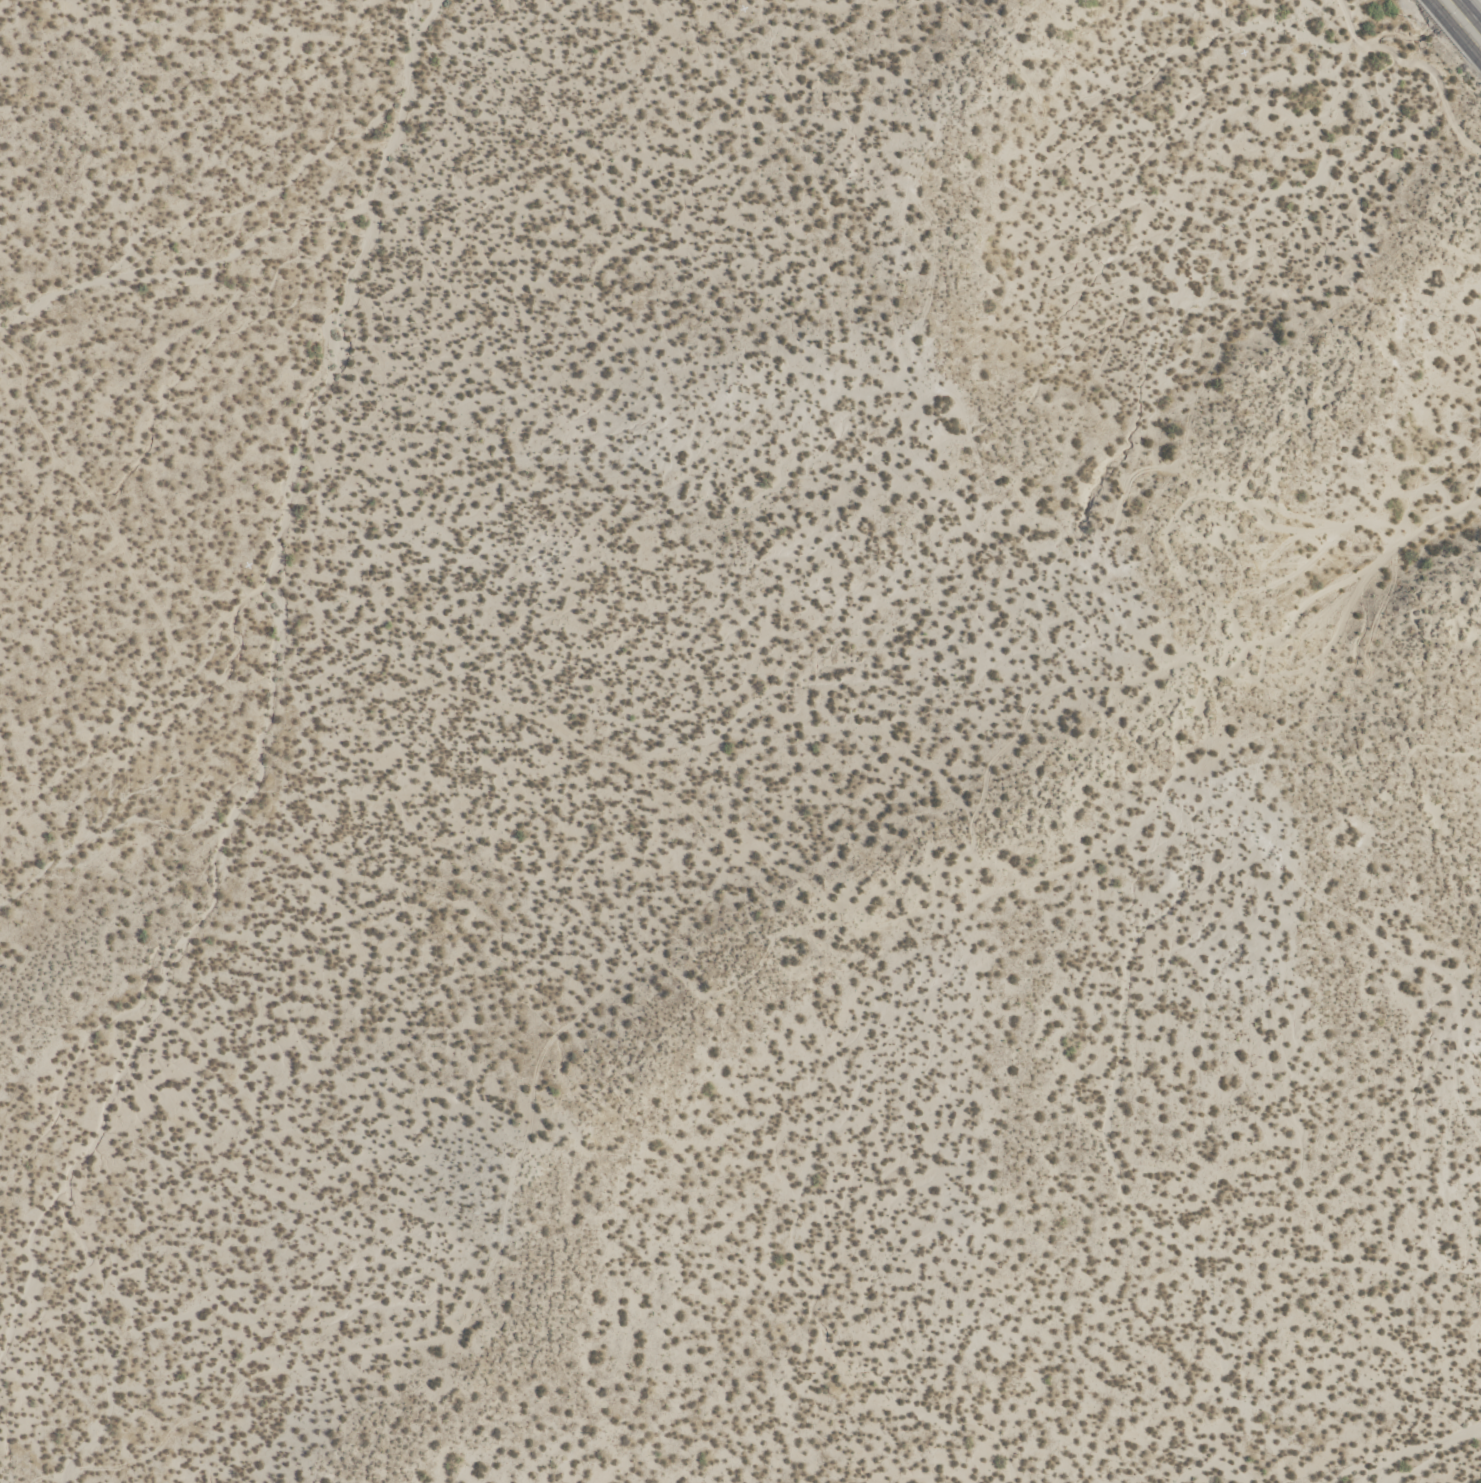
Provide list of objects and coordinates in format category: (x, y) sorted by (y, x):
road: (1463, 19)

